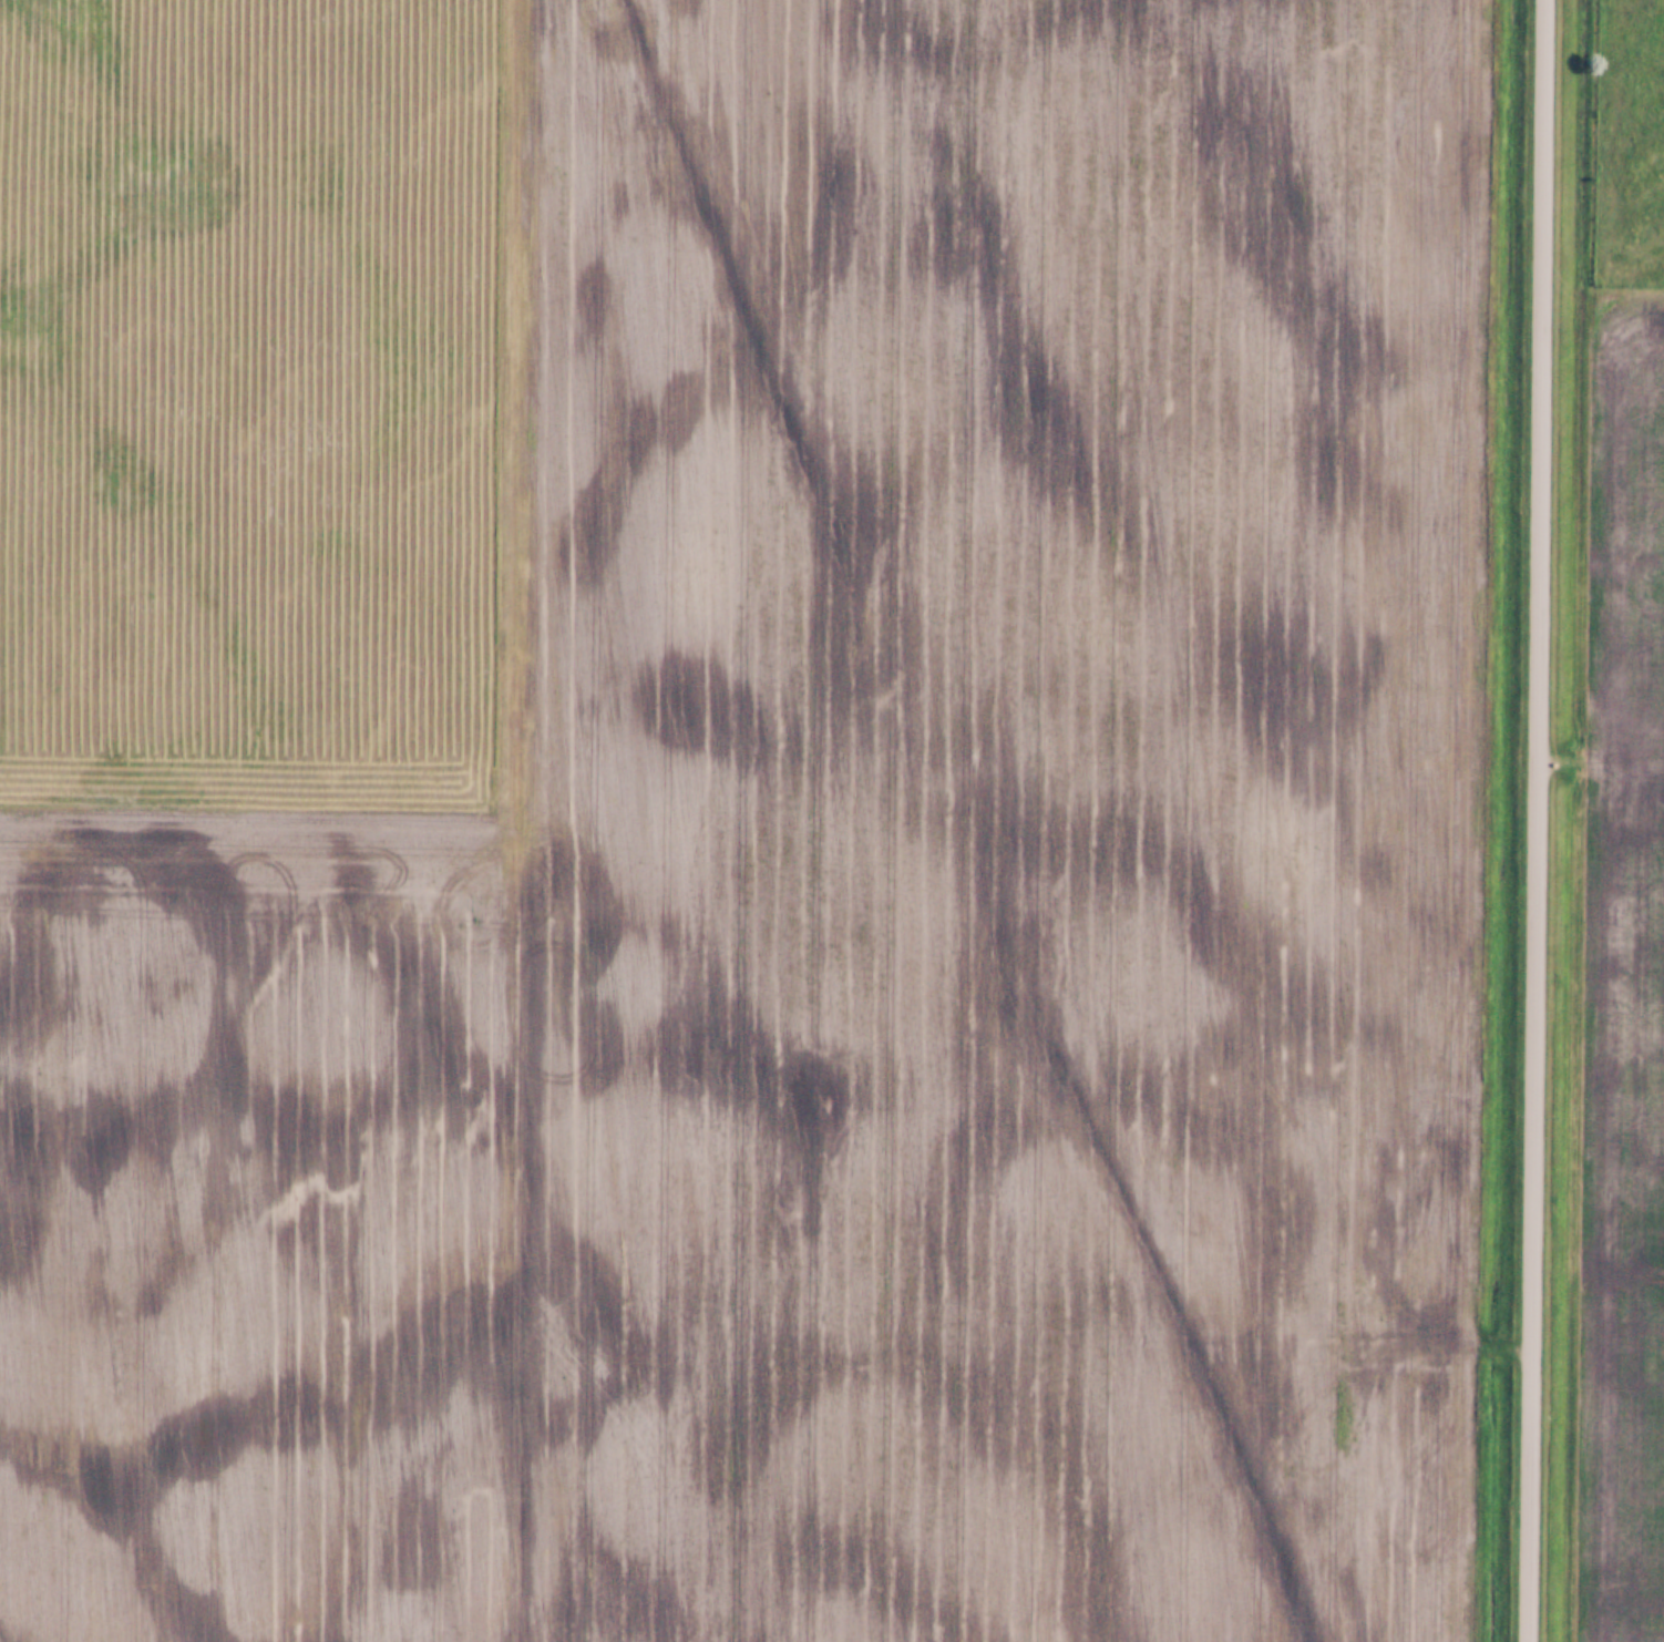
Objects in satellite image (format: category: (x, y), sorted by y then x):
road: (1539, 821)

